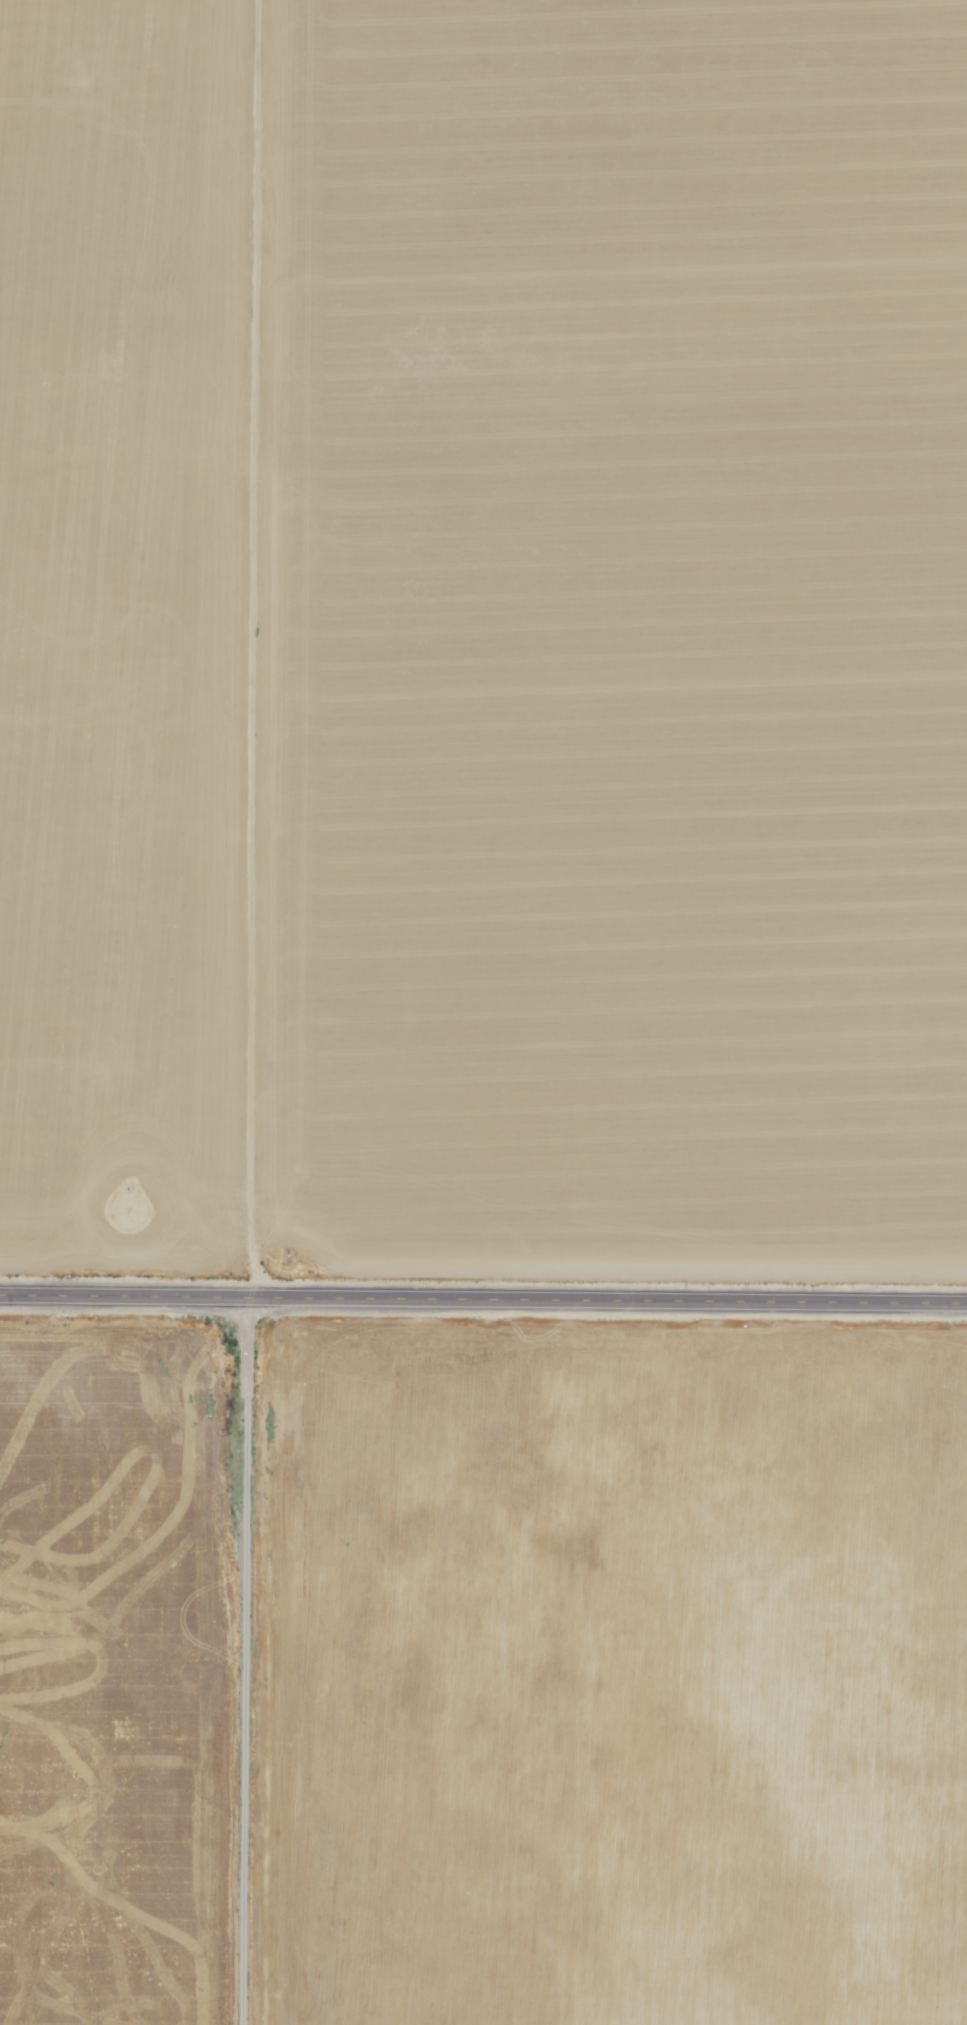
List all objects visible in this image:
road: (262, 650)
road: (483, 1301)
road: (236, 1663)

